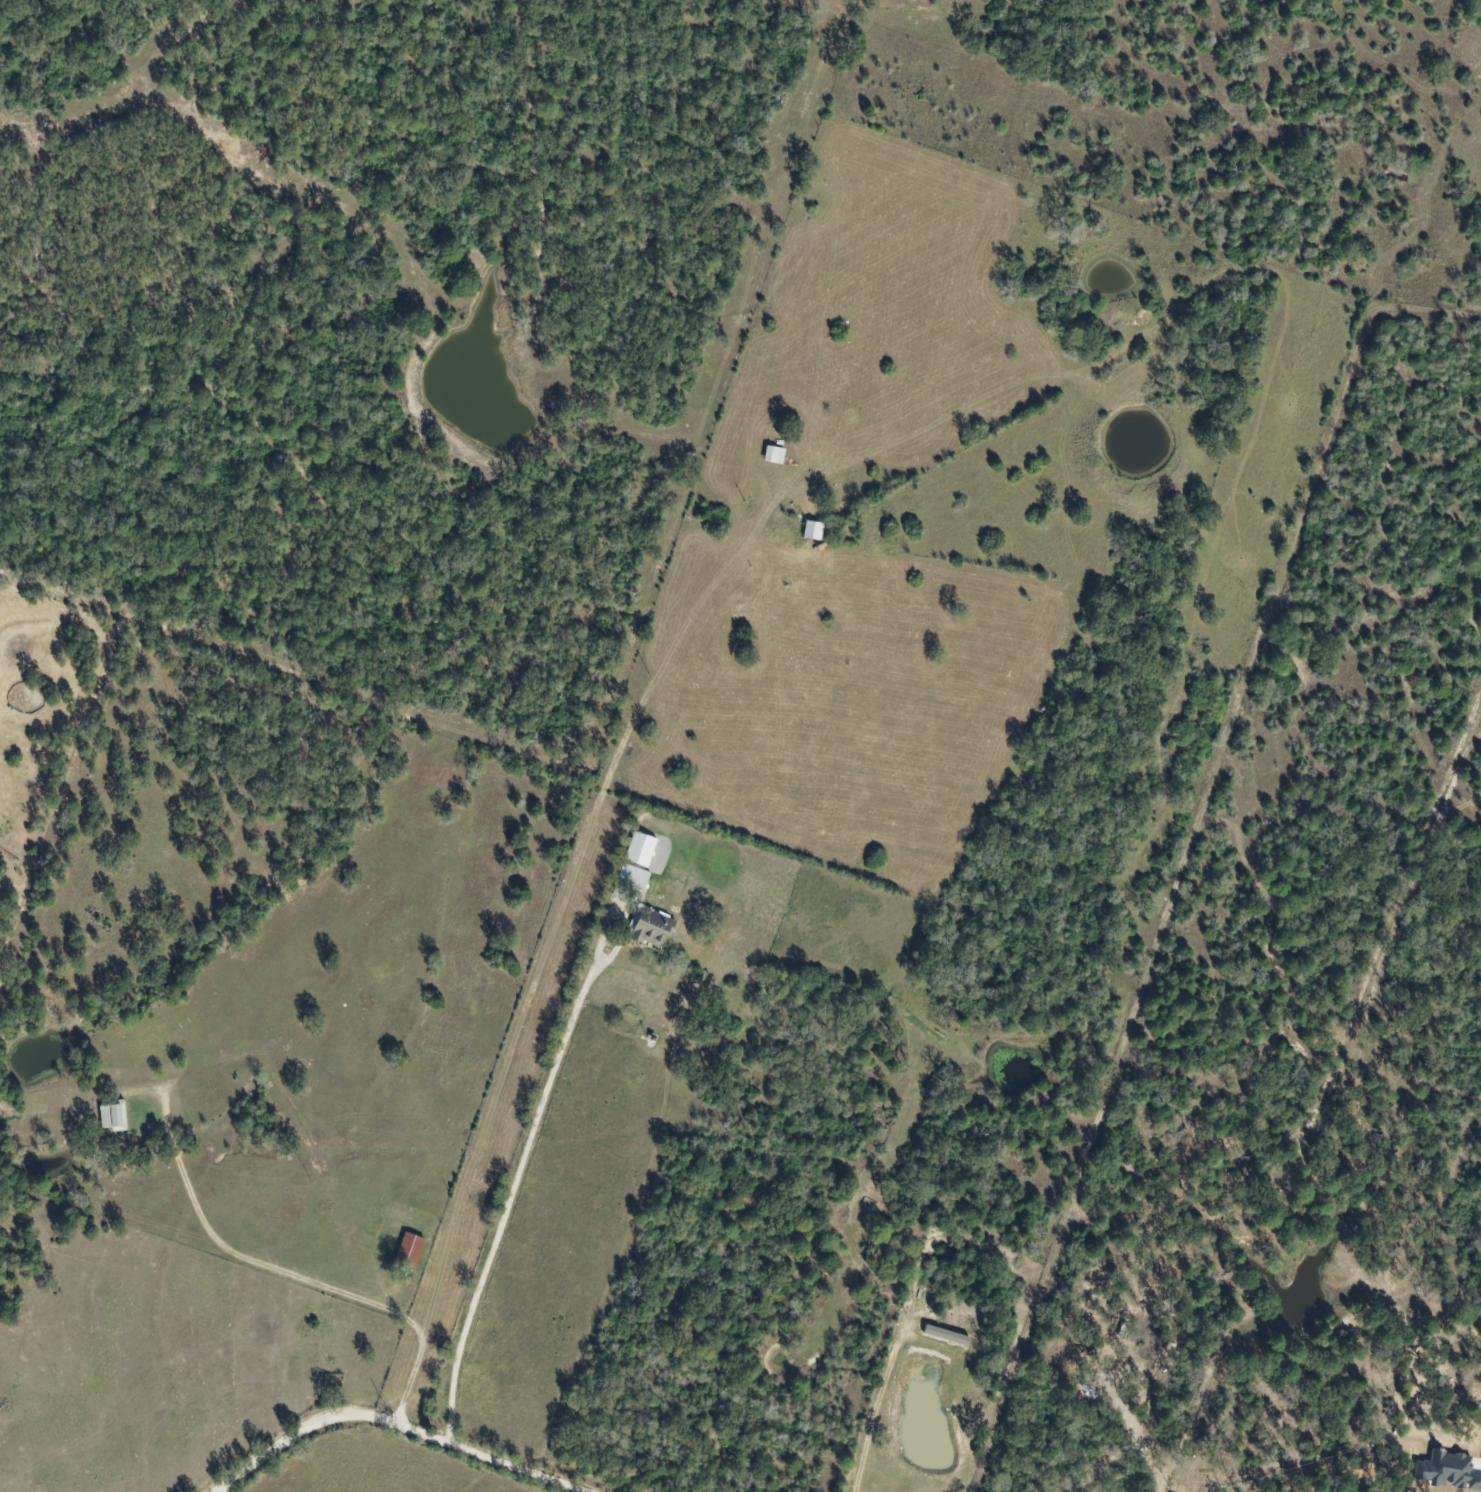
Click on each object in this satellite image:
building: (776, 455)
building: (815, 531)
building: (643, 849)
building: (631, 881)
building: (653, 926)
building: (412, 1249)
road: (393, 1423)

